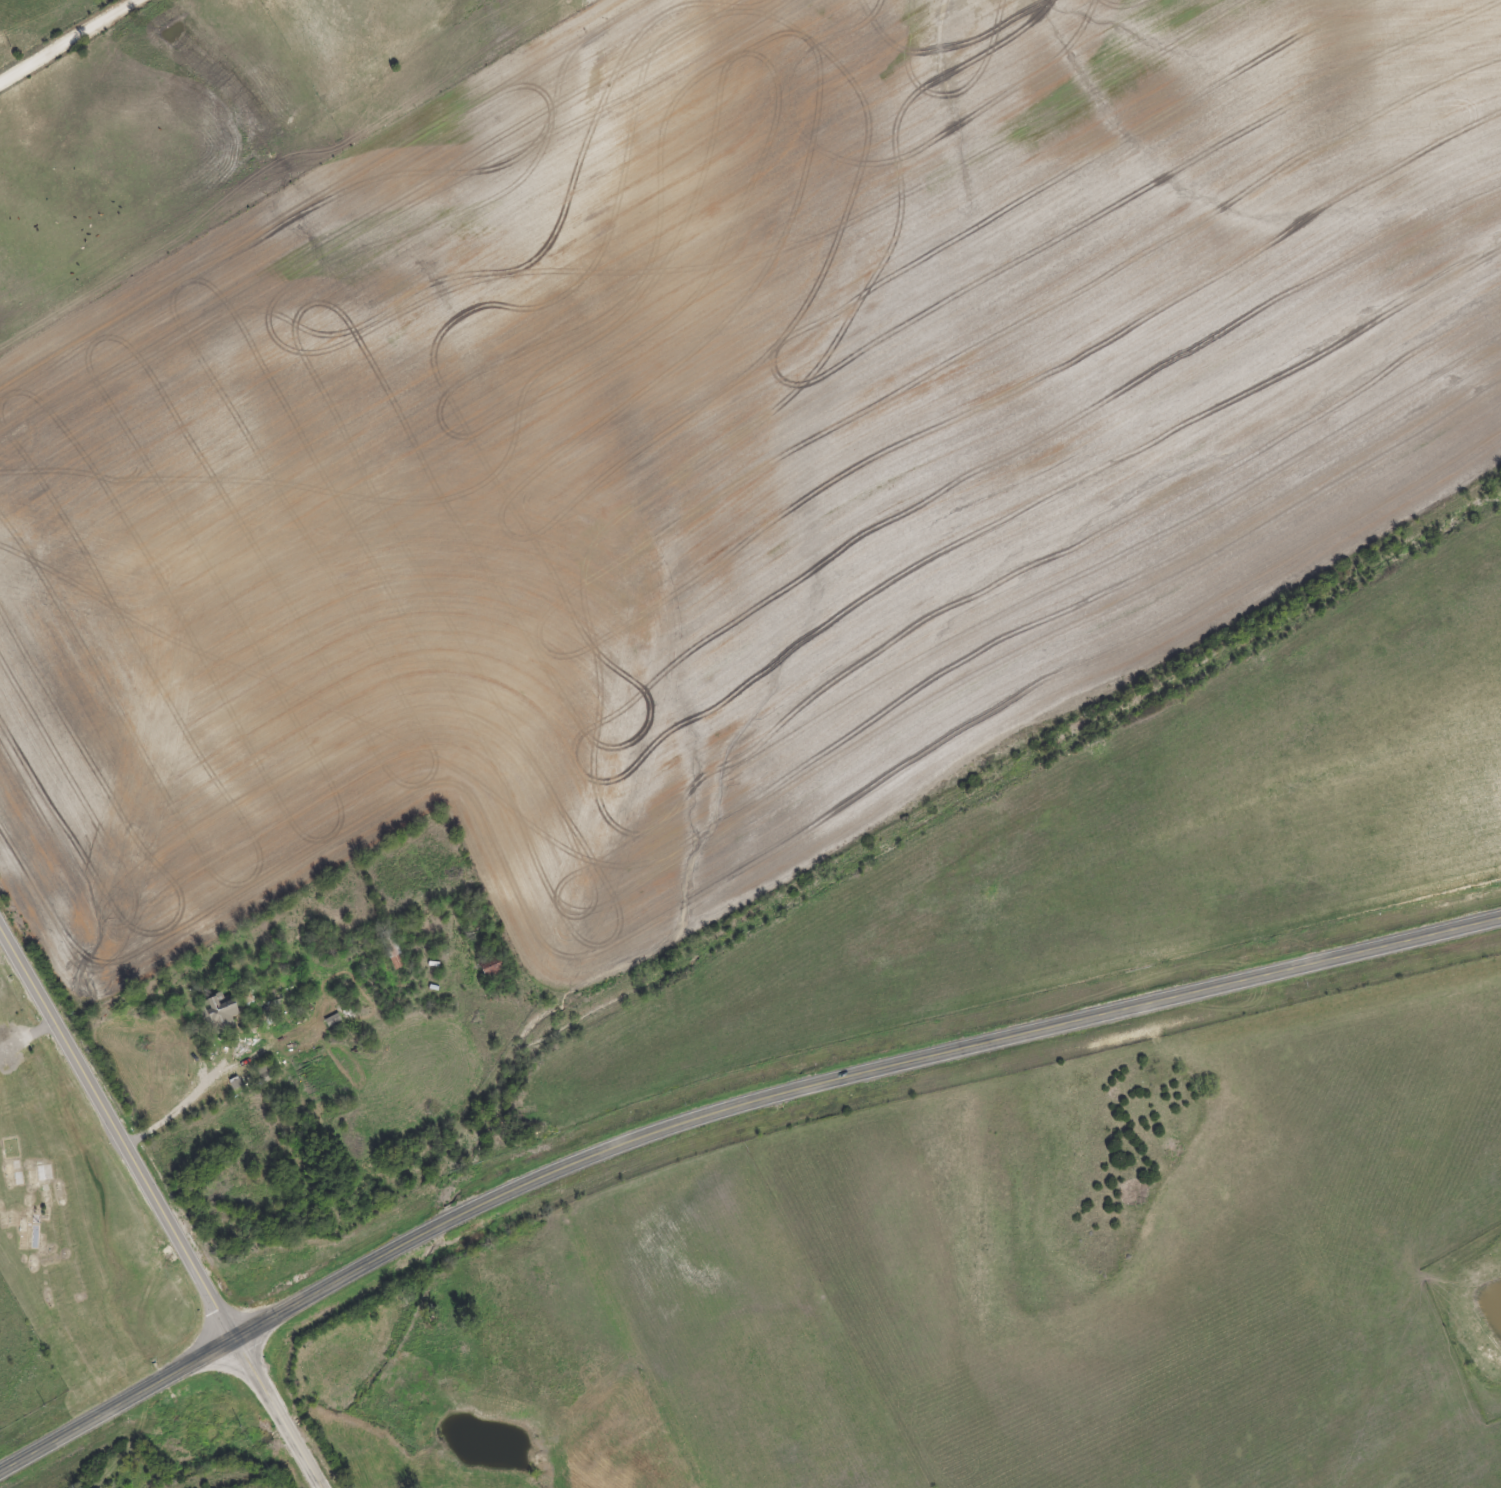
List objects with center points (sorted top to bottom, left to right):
road: (70, 42)
building: (390, 945)
building: (219, 1009)
road: (718, 1109)
building: (47, 1171)
road: (160, 1206)
park: (75, 1215)

